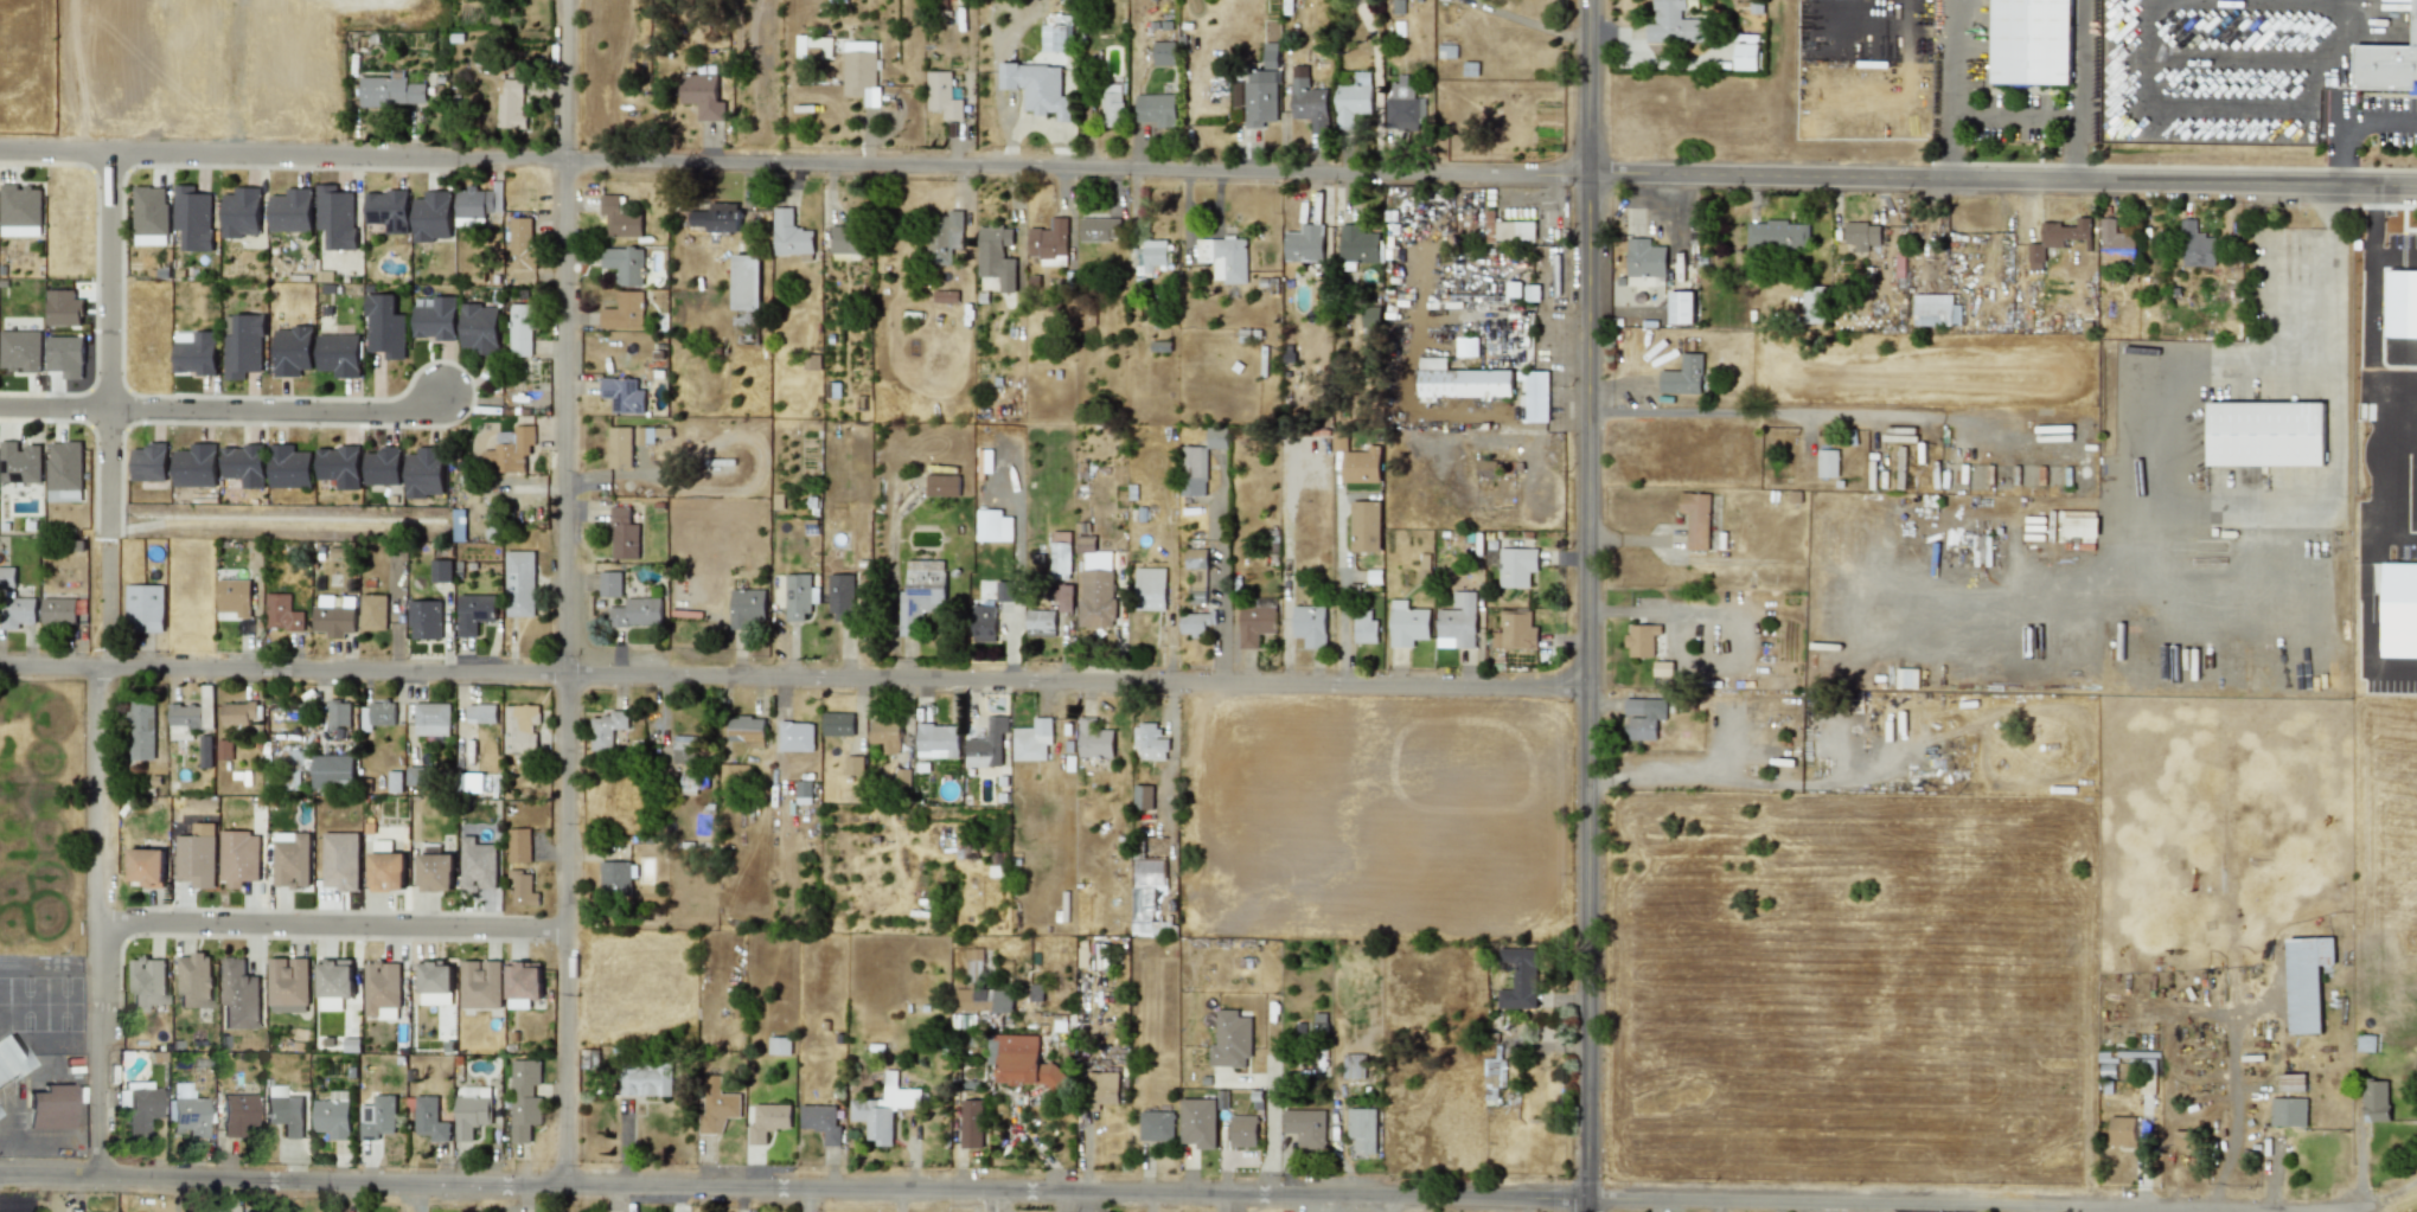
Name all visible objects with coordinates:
building: (2389, 13)
road: (1532, 21)
building: (1671, 23)
building: (1055, 37)
building: (2031, 41)
building: (823, 44)
road: (2141, 44)
road: (2335, 47)
building: (1163, 52)
building: (1746, 53)
building: (1268, 54)
road: (2236, 54)
road: (1949, 57)
road: (2083, 58)
building: (2387, 64)
building: (856, 73)
road: (2342, 77)
building: (1036, 86)
building: (391, 90)
road: (2225, 91)
building: (702, 95)
building: (941, 95)
building: (1259, 97)
building: (1351, 100)
building: (510, 103)
building: (1111, 104)
building: (1309, 104)
building: (1402, 105)
building: (1156, 109)
road: (2015, 115)
road: (2346, 120)
road: (1949, 146)
road: (2073, 147)
road: (1208, 167)
building: (477, 201)
building: (20, 206)
building: (290, 210)
building: (388, 210)
building: (241, 212)
building: (149, 214)
building: (335, 216)
building: (431, 216)
building: (193, 217)
building: (619, 217)
building: (716, 217)
building: (1099, 229)
building: (1508, 229)
building: (1777, 233)
building: (789, 235)
road: (1200, 235)
building: (1861, 235)
building: (944, 236)
building: (2057, 238)
building: (845, 239)
building: (1049, 242)
building: (522, 243)
building: (1303, 243)
building: (2115, 244)
building: (2197, 245)
building: (1152, 254)
building: (996, 256)
building: (1223, 257)
building: (1644, 257)
building: (624, 264)
building: (746, 282)
road: (108, 283)
building: (1513, 288)
building: (1812, 303)
building: (1680, 307)
road: (2371, 307)
building: (63, 308)
building: (1935, 309)
building: (624, 310)
building: (1370, 315)
building: (435, 319)
building: (384, 326)
building: (479, 327)
building: (519, 329)
building: (242, 345)
building: (1466, 346)
building: (20, 350)
building: (292, 350)
building: (194, 352)
building: (338, 354)
building: (65, 355)
building: (1683, 376)
road: (2175, 378)
building: (1460, 380)
building: (624, 395)
building: (1534, 395)
road: (53, 409)
road: (273, 411)
road: (1757, 411)
building: (2265, 434)
building: (644, 435)
road: (2398, 436)
building: (1216, 437)
building: (620, 447)
building: (512, 448)
building: (985, 458)
building: (1356, 460)
building: (19, 462)
building: (149, 462)
building: (1827, 462)
building: (243, 464)
building: (194, 466)
building: (289, 466)
building: (338, 466)
building: (382, 466)
building: (64, 470)
building: (1192, 470)
building: (424, 472)
road: (107, 475)
road: (2380, 481)
building: (942, 485)
road: (2225, 514)
building: (1695, 518)
building: (993, 525)
building: (1364, 525)
building: (2086, 528)
building: (624, 533)
building: (1195, 557)
building: (1060, 559)
building: (1516, 566)
building: (440, 570)
building: (7, 576)
building: (519, 583)
building: (609, 583)
building: (1095, 584)
building: (1149, 588)
building: (1004, 590)
road: (564, 592)
building: (920, 594)
road: (1338, 594)
building: (798, 595)
building: (234, 596)
building: (840, 596)
road: (1587, 601)
road: (105, 603)
building: (143, 607)
building: (747, 608)
building: (58, 610)
road: (1645, 610)
building: (17, 611)
building: (372, 611)
building: (637, 611)
building: (281, 613)
building: (474, 613)
building: (426, 618)
building: (333, 620)
building: (1458, 620)
building: (1040, 622)
building: (1195, 622)
building: (983, 623)
building: (1254, 623)
building: (1406, 623)
building: (1309, 624)
building: (1363, 627)
building: (1514, 630)
building: (1641, 639)
building: (1662, 668)
road: (793, 674)
building: (1906, 676)
building: (481, 712)
building: (234, 713)
building: (338, 713)
building: (376, 713)
building: (191, 716)
building: (1643, 717)
building: (431, 718)
building: (837, 723)
building: (519, 727)
building: (141, 729)
building: (606, 729)
building: (747, 730)
building: (885, 733)
building: (795, 736)
building: (1094, 738)
building: (1031, 739)
building: (936, 740)
building: (1149, 742)
building: (986, 744)
building: (222, 749)
building: (683, 749)
building: (204, 751)
building: (853, 764)
building: (333, 770)
building: (733, 772)
building: (417, 775)
road: (1676, 776)
building: (902, 777)
building: (688, 781)
building: (395, 782)
building: (469, 782)
building: (803, 791)
building: (608, 795)
building: (1143, 796)
building: (518, 845)
building: (197, 855)
building: (239, 857)
building: (292, 859)
building: (340, 860)
building: (478, 864)
building: (147, 866)
building: (386, 871)
building: (435, 872)
building: (1147, 872)
building: (614, 876)
building: (522, 889)
road: (103, 924)
road: (333, 925)
building: (973, 960)
building: (1518, 979)
building: (193, 980)
building: (288, 981)
building: (334, 981)
building: (2306, 981)
building: (146, 982)
building: (435, 982)
building: (523, 982)
building: (480, 983)
building: (382, 989)
building: (238, 994)
building: (981, 999)
building: (288, 1008)
building: (1230, 1039)
building: (2365, 1043)
building: (779, 1045)
building: (12, 1058)
building: (1019, 1062)
building: (1354, 1065)
building: (1494, 1072)
building: (645, 1079)
building: (2293, 1082)
building: (1100, 1088)
building: (524, 1098)
building: (2374, 1099)
building: (140, 1104)
building: (716, 1105)
building: (50, 1107)
building: (882, 1109)
building: (282, 1110)
building: (471, 1110)
building: (186, 1111)
building: (2287, 1111)
building: (236, 1114)
building: (332, 1114)
building: (377, 1116)
building: (429, 1118)
building: (767, 1121)
building: (819, 1121)
road: (14, 1122)
building: (1197, 1122)
building: (971, 1123)
building: (1155, 1126)
building: (1305, 1127)
road: (1268, 1129)
building: (1242, 1130)
building: (2122, 1130)
road: (792, 1191)
road: (900, 1203)
road: (1000, 1203)
road: (2398, 1203)
road: (1374, 1206)
road: (1586, 1207)
road: (1872, 1207)

